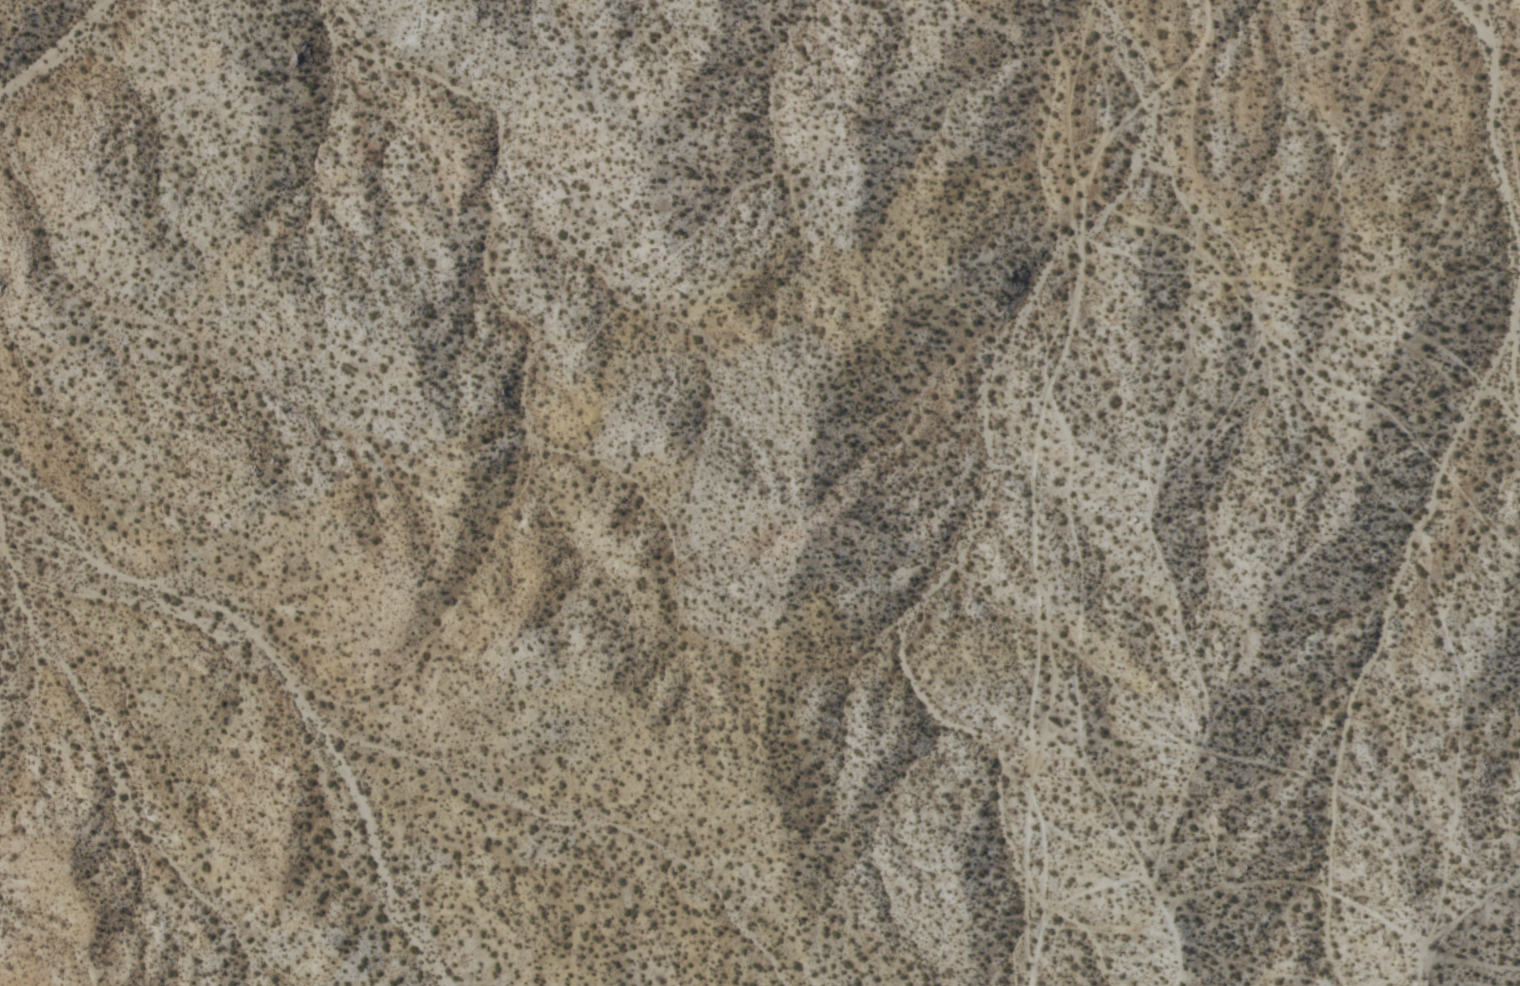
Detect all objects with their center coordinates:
crop: (1278, 744)

